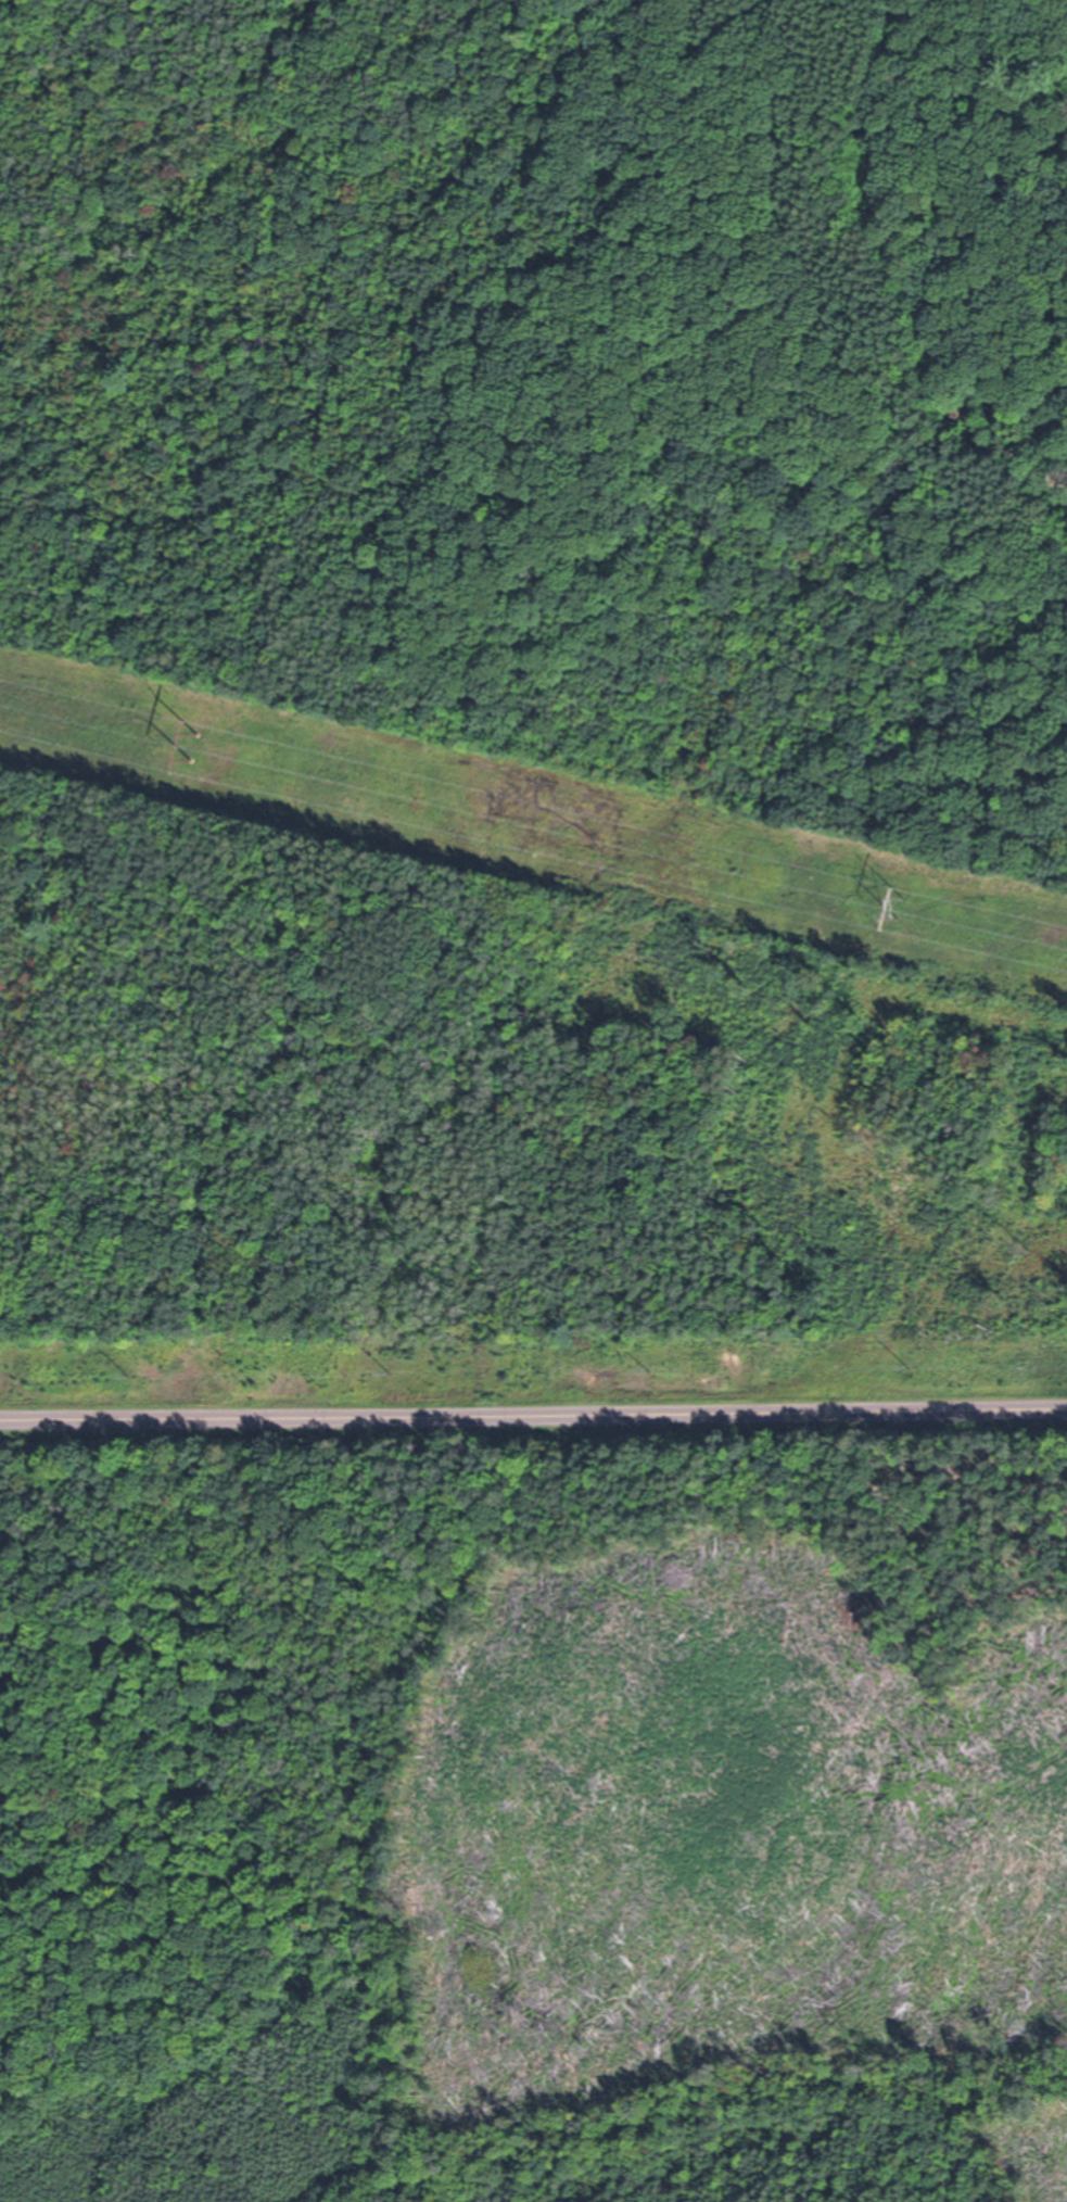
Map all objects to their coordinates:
power tower: (196, 749)
power tower: (911, 912)
road: (533, 1422)

